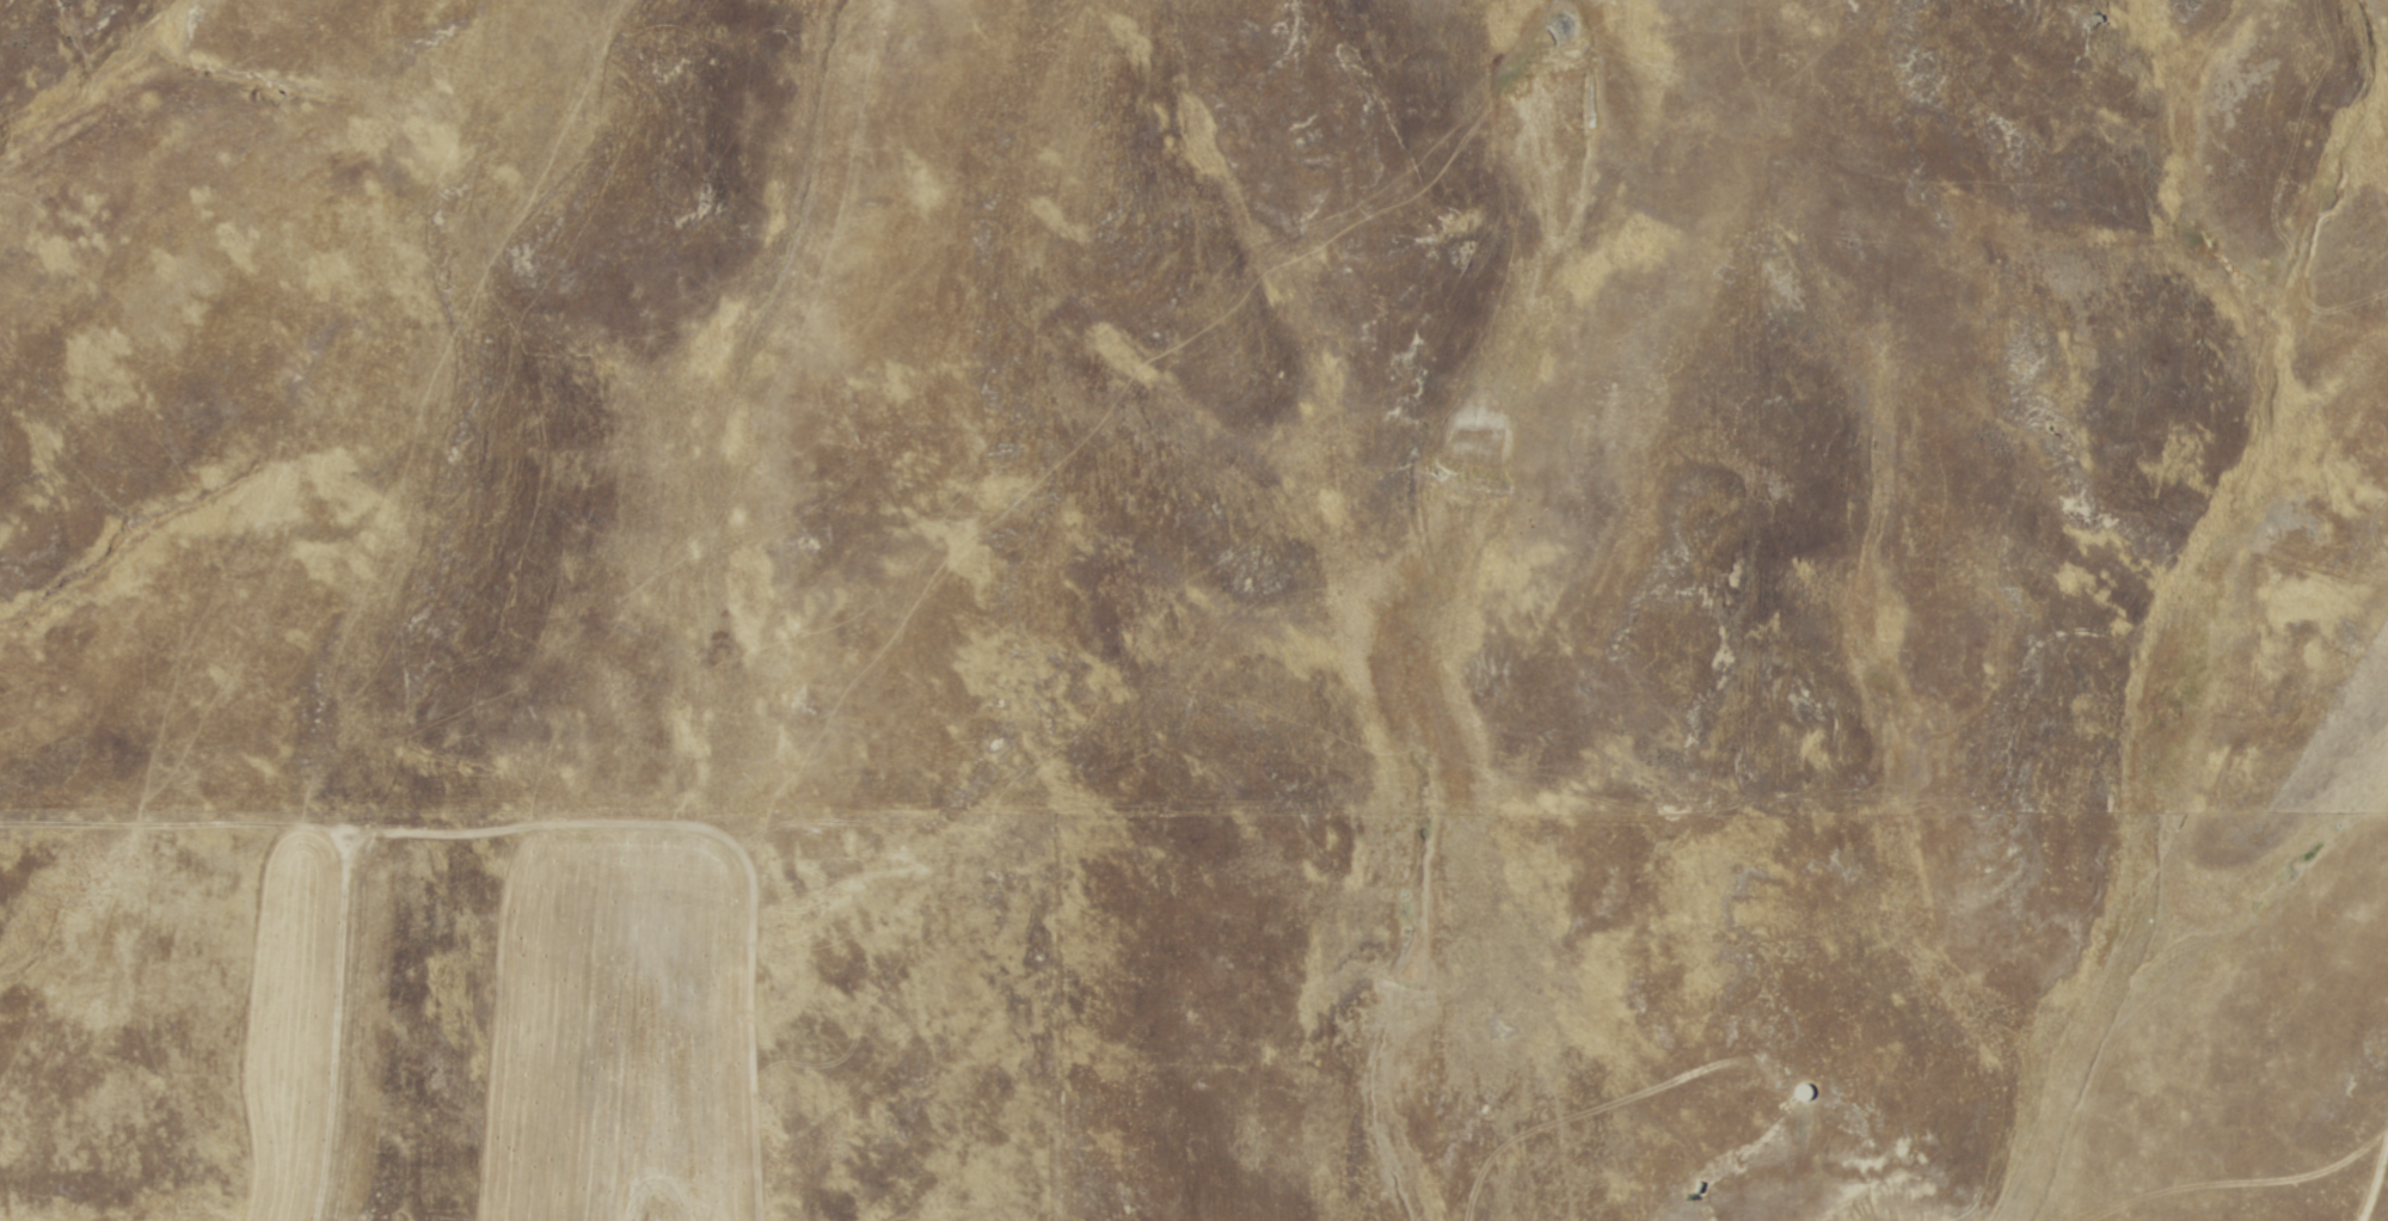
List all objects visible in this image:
road: (1801, 842)
road: (2214, 1011)
building: (1806, 1093)
road: (2371, 1188)

